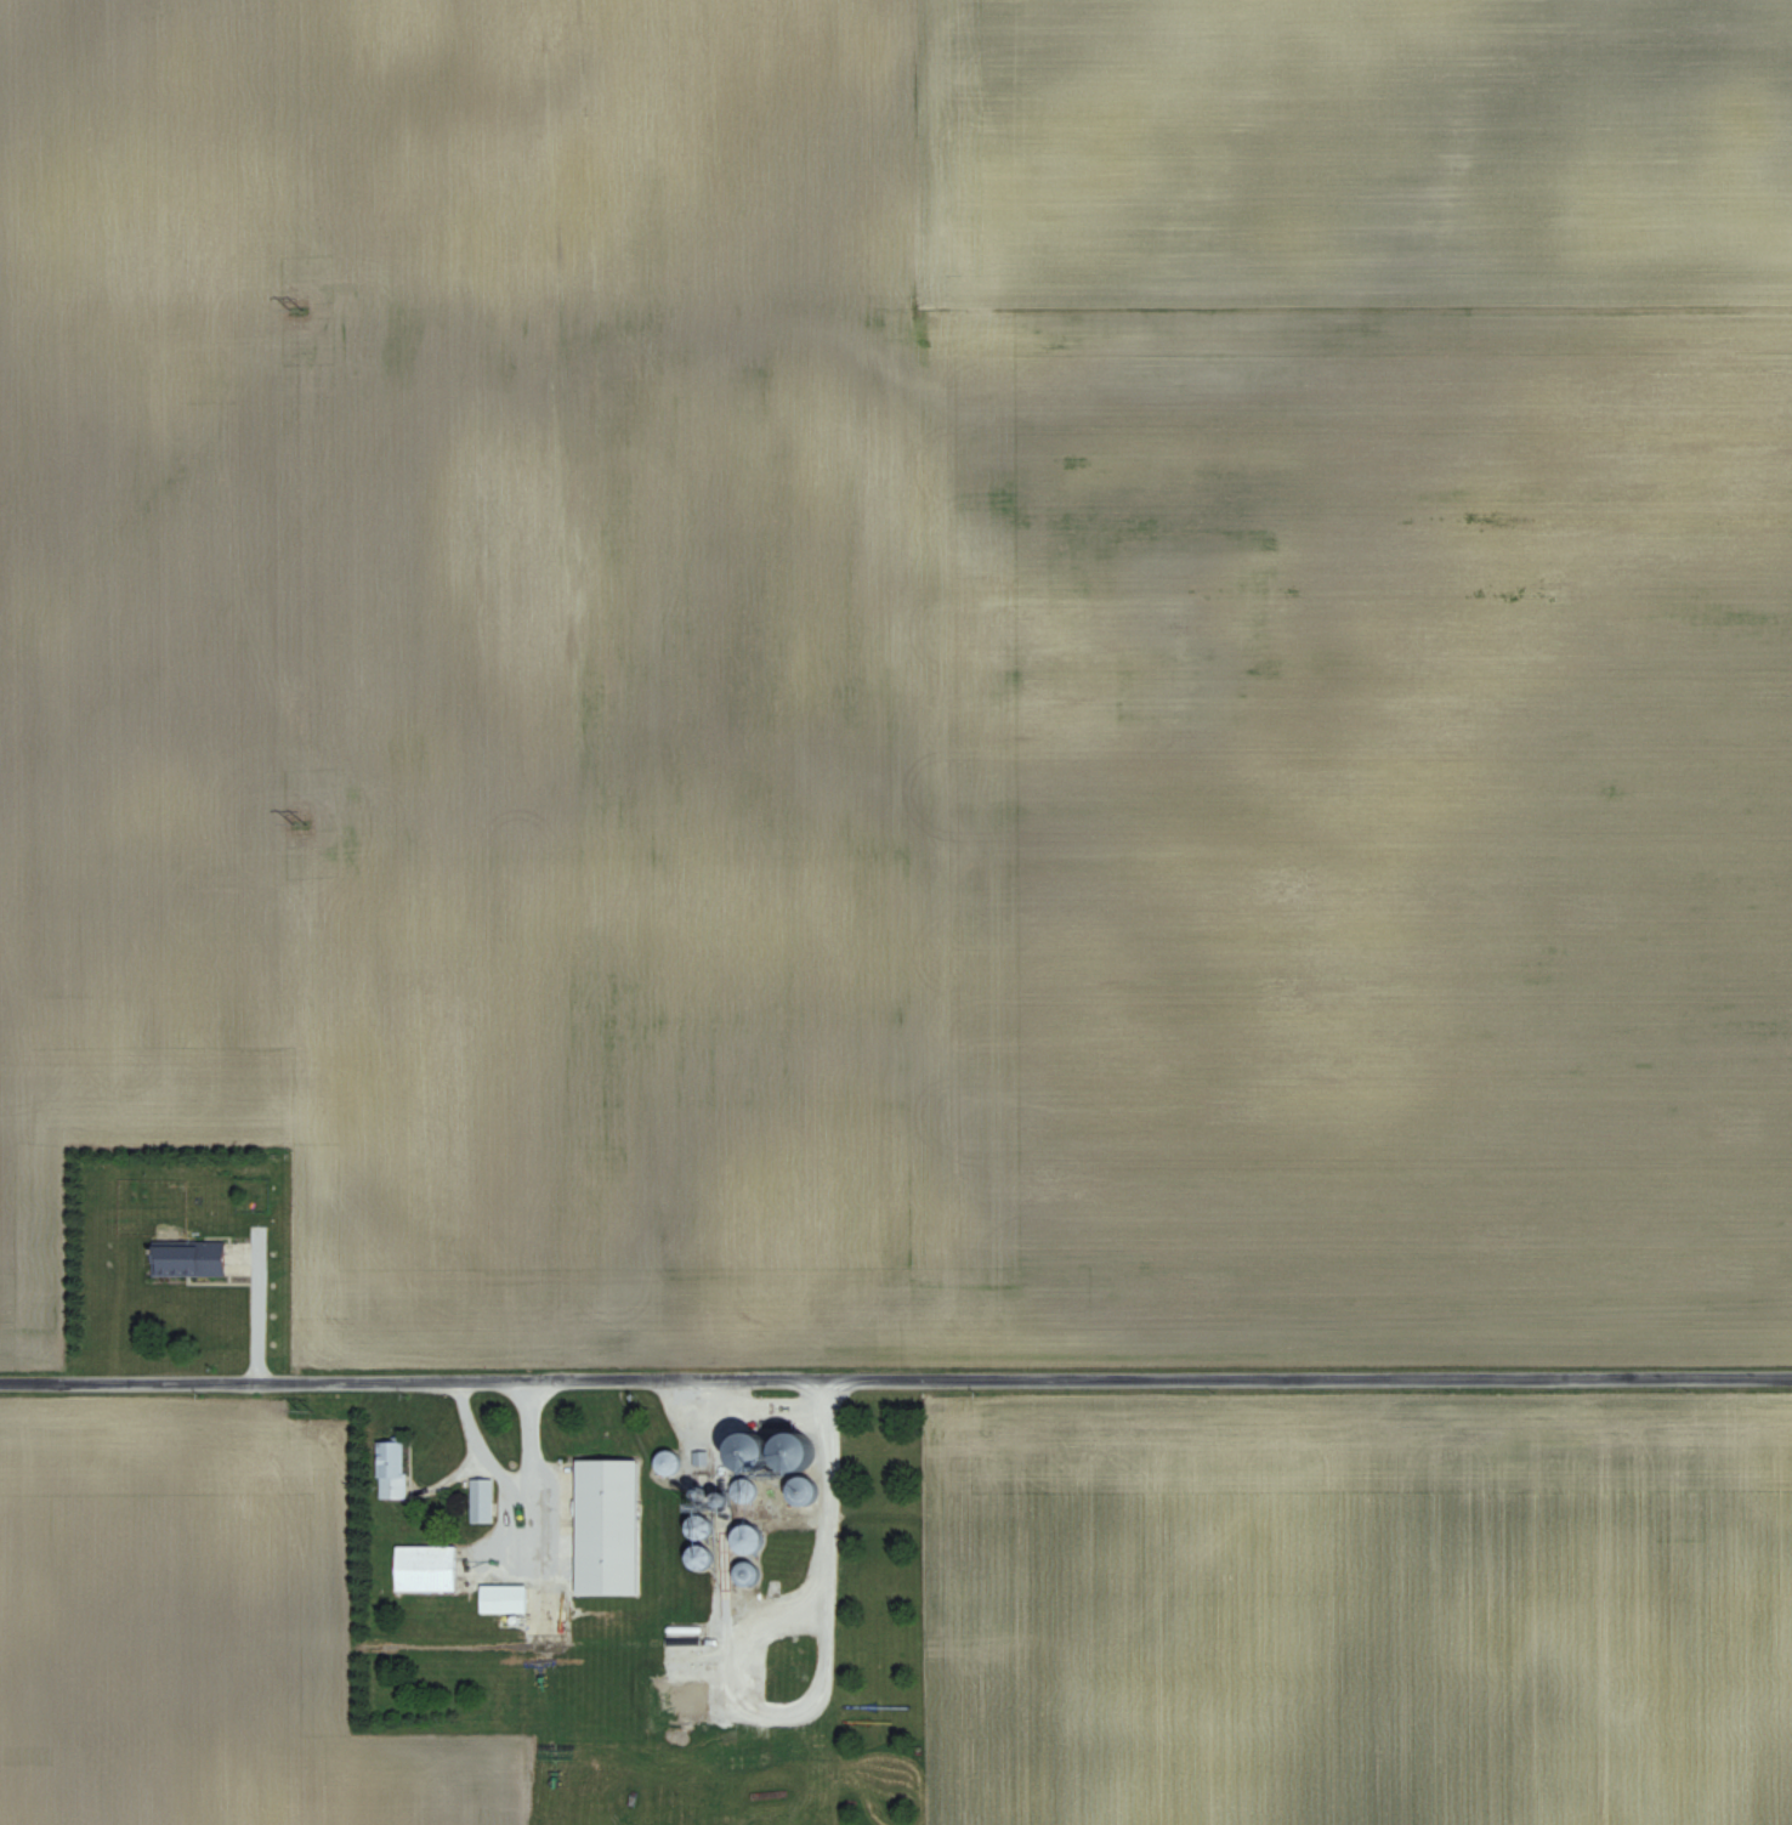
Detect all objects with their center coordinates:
building: (187, 1258)
road: (895, 1377)
building: (787, 1447)
building: (669, 1461)
building: (391, 1468)
building: (799, 1485)
building: (481, 1498)
building: (606, 1525)
building: (748, 1536)
building: (425, 1568)
building: (748, 1570)

